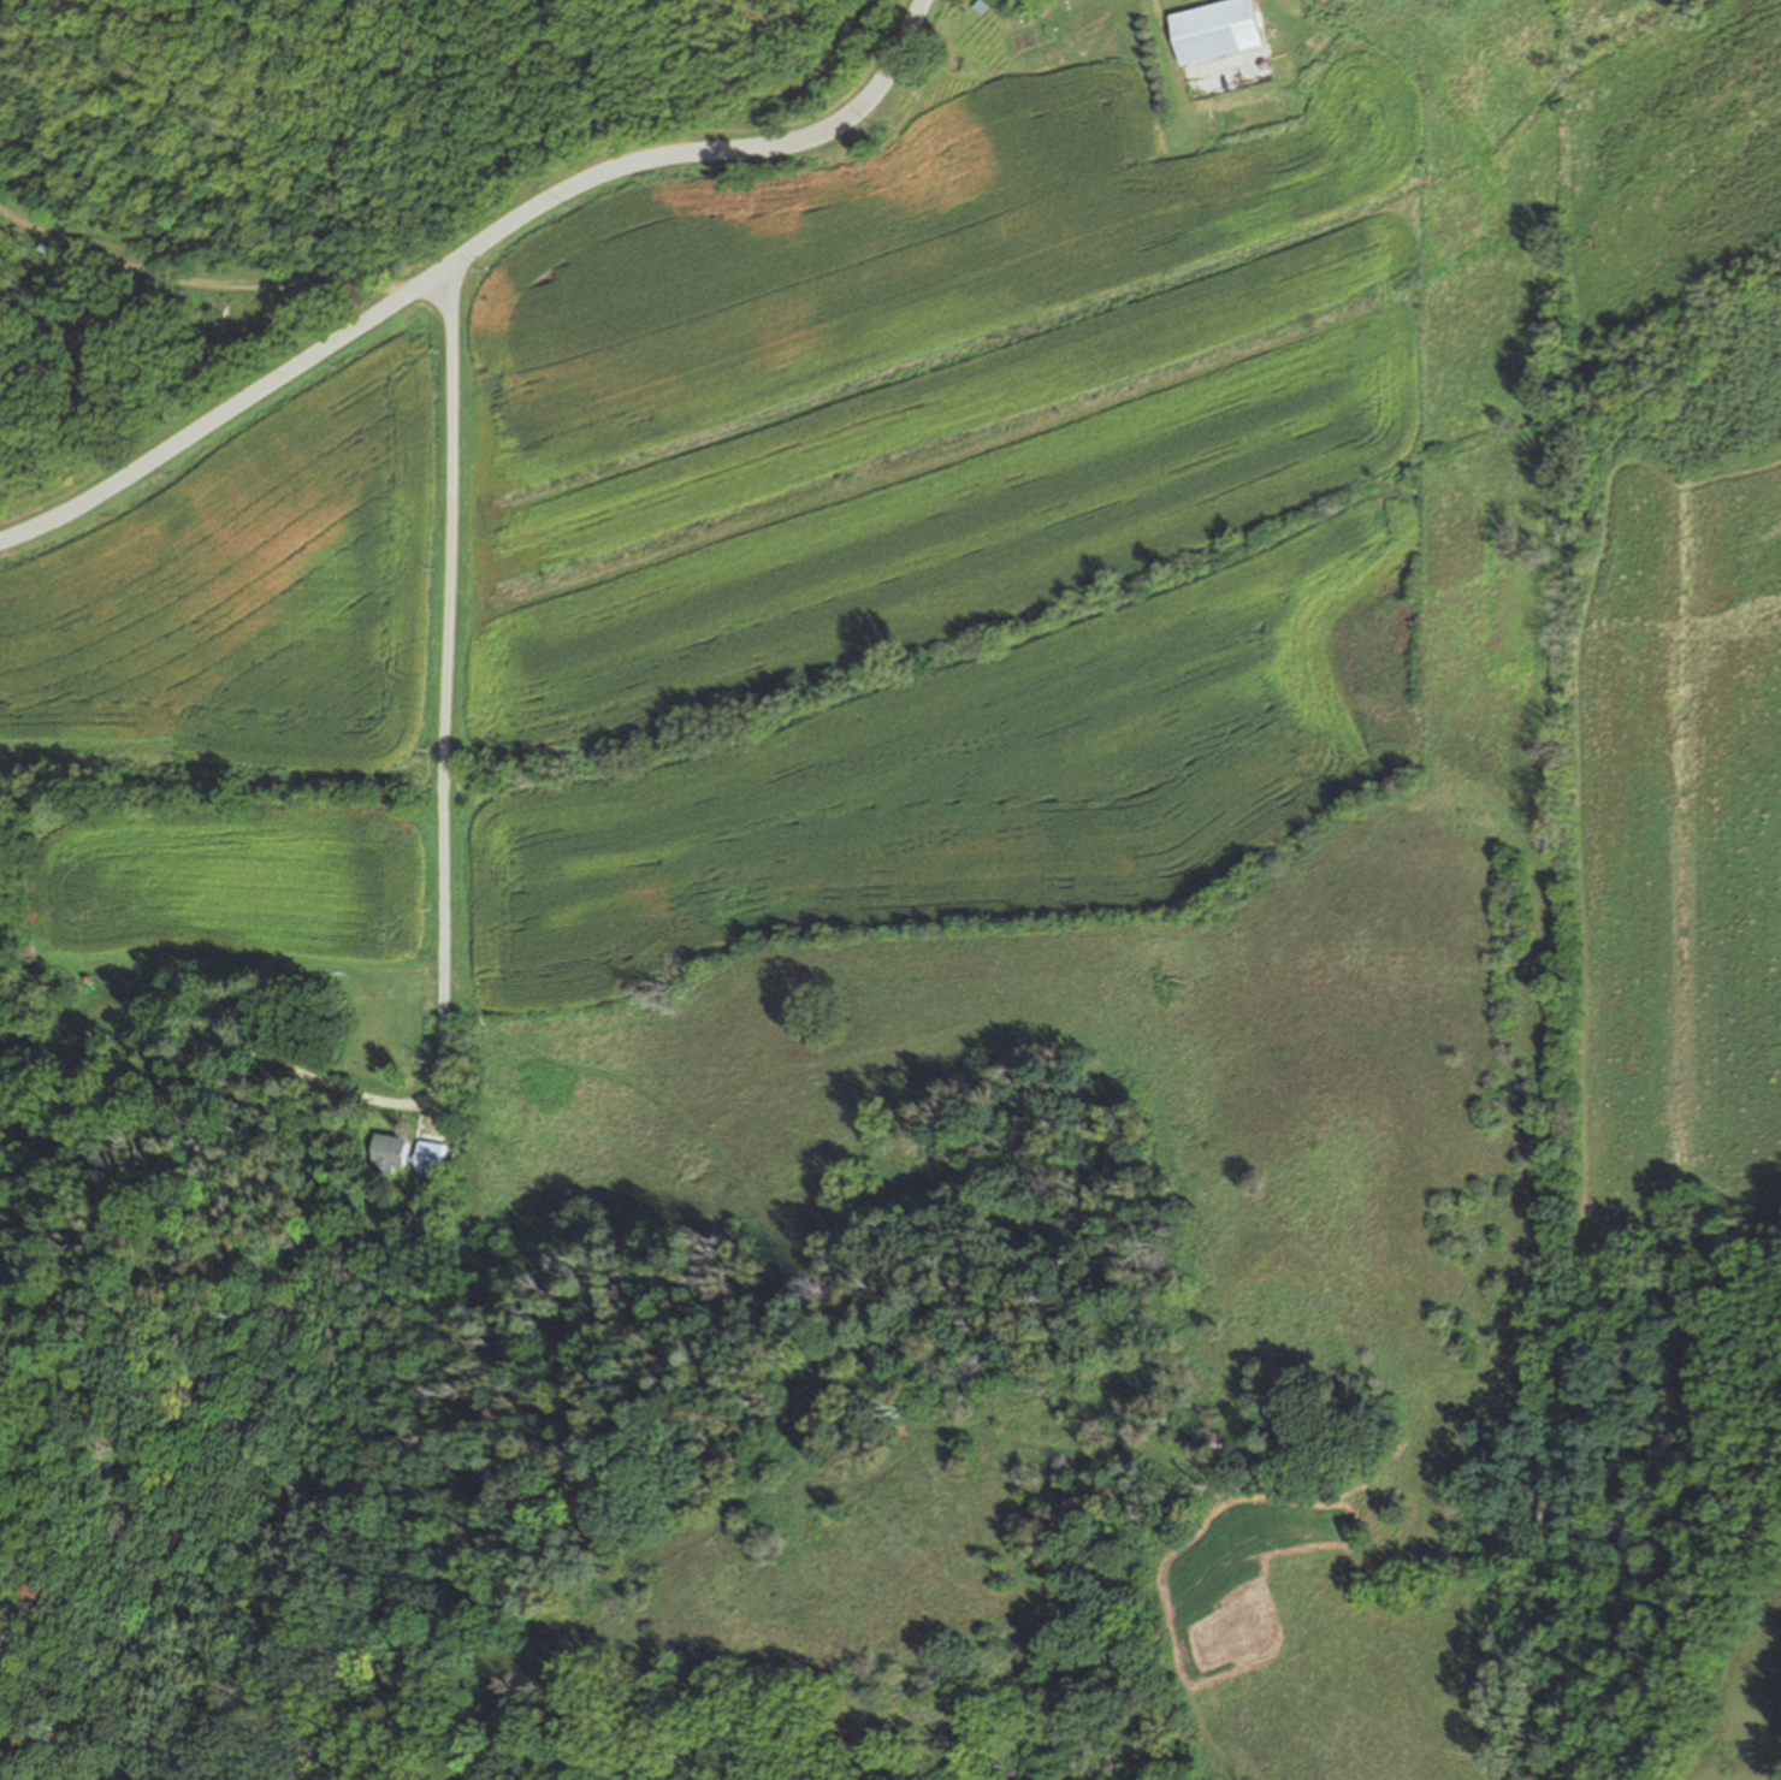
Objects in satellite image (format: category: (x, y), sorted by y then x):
building: (1218, 28)
road: (469, 252)
road: (199, 282)
building: (130, 292)
road: (448, 686)
building: (230, 1018)
building: (260, 1037)
building: (256, 1074)
road: (342, 1086)
building: (386, 1151)
building: (427, 1155)

